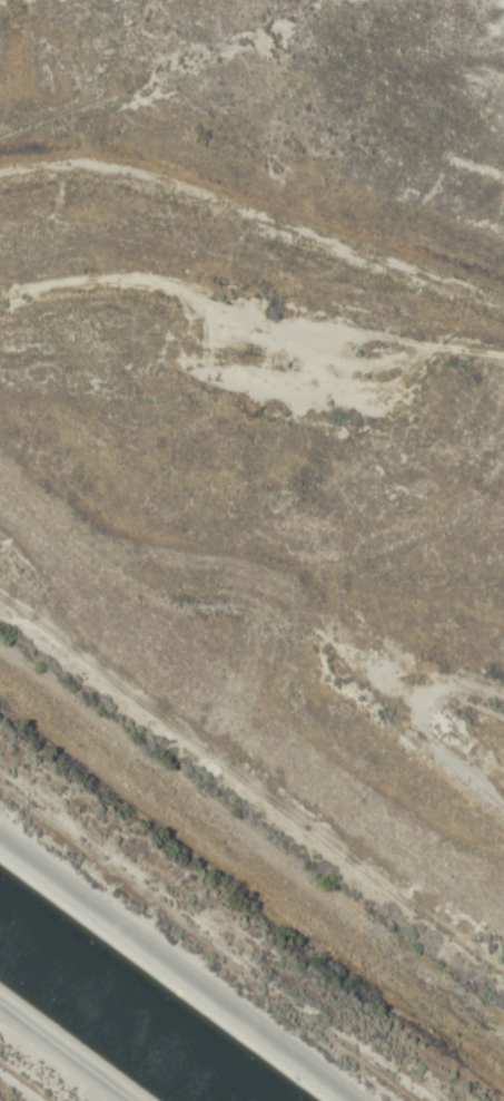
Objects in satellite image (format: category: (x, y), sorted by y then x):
road: (254, 202)
road: (395, 744)
road: (189, 957)
road: (52, 1061)

